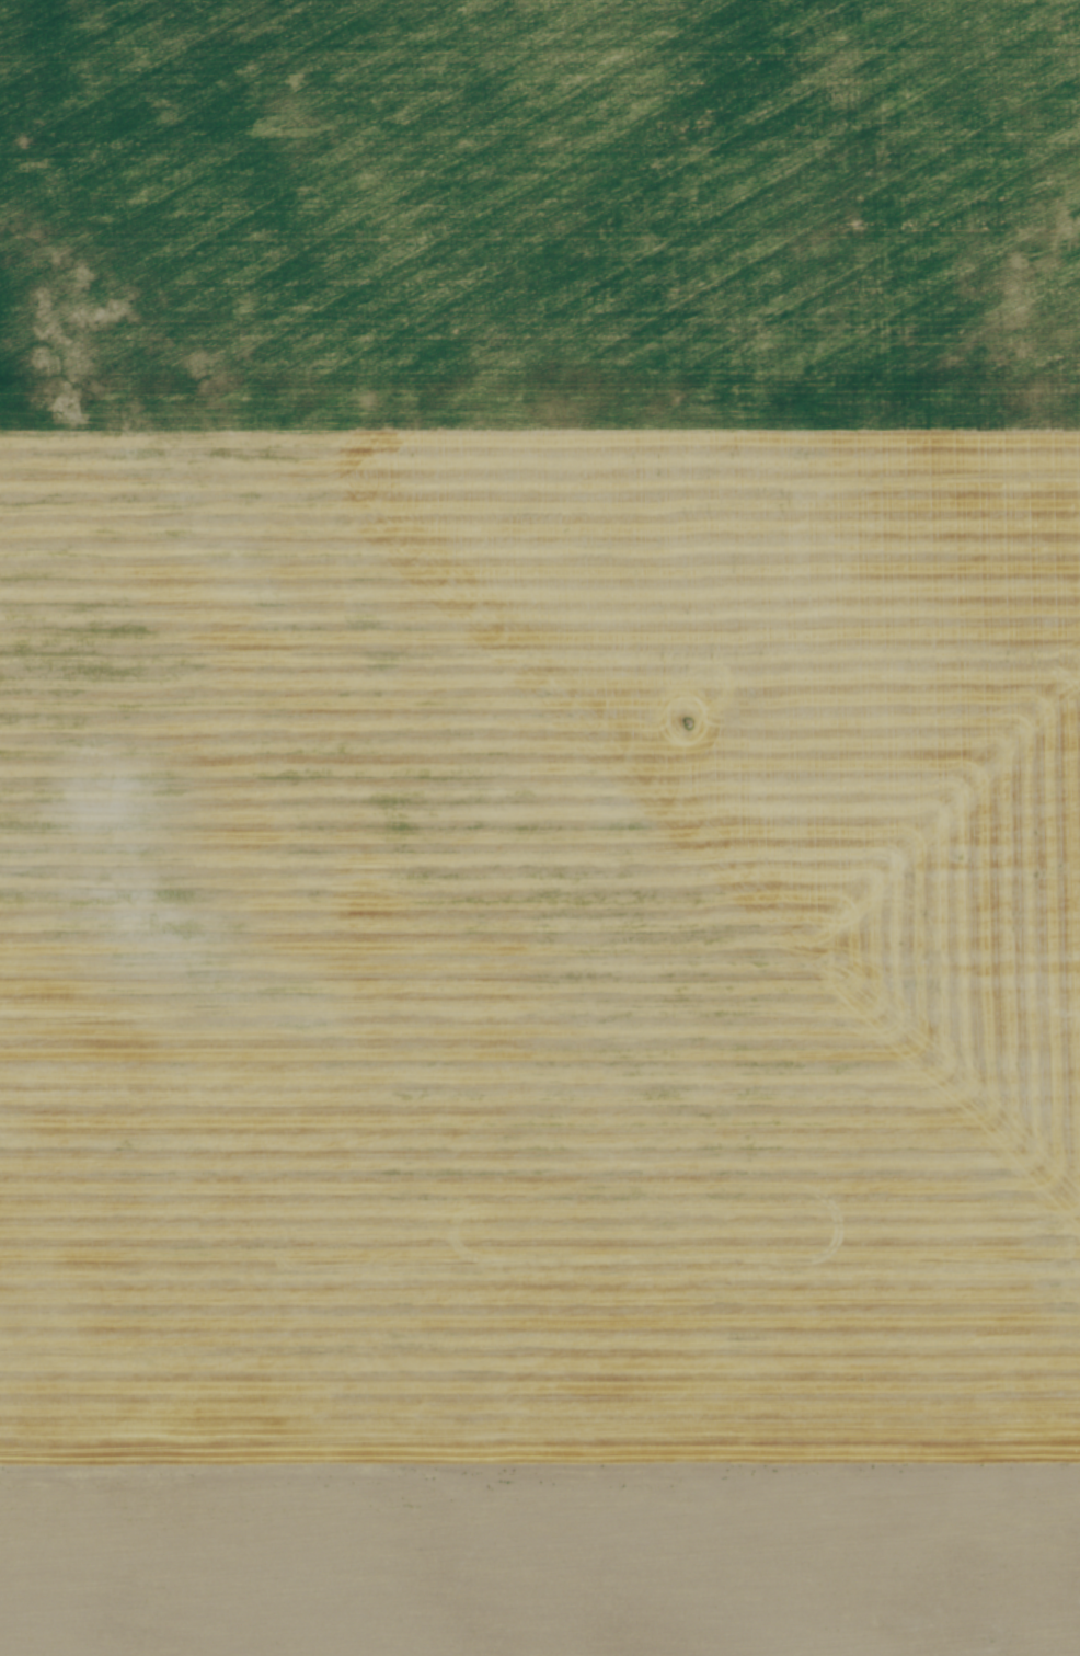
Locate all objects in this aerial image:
crop: (540, 827)

